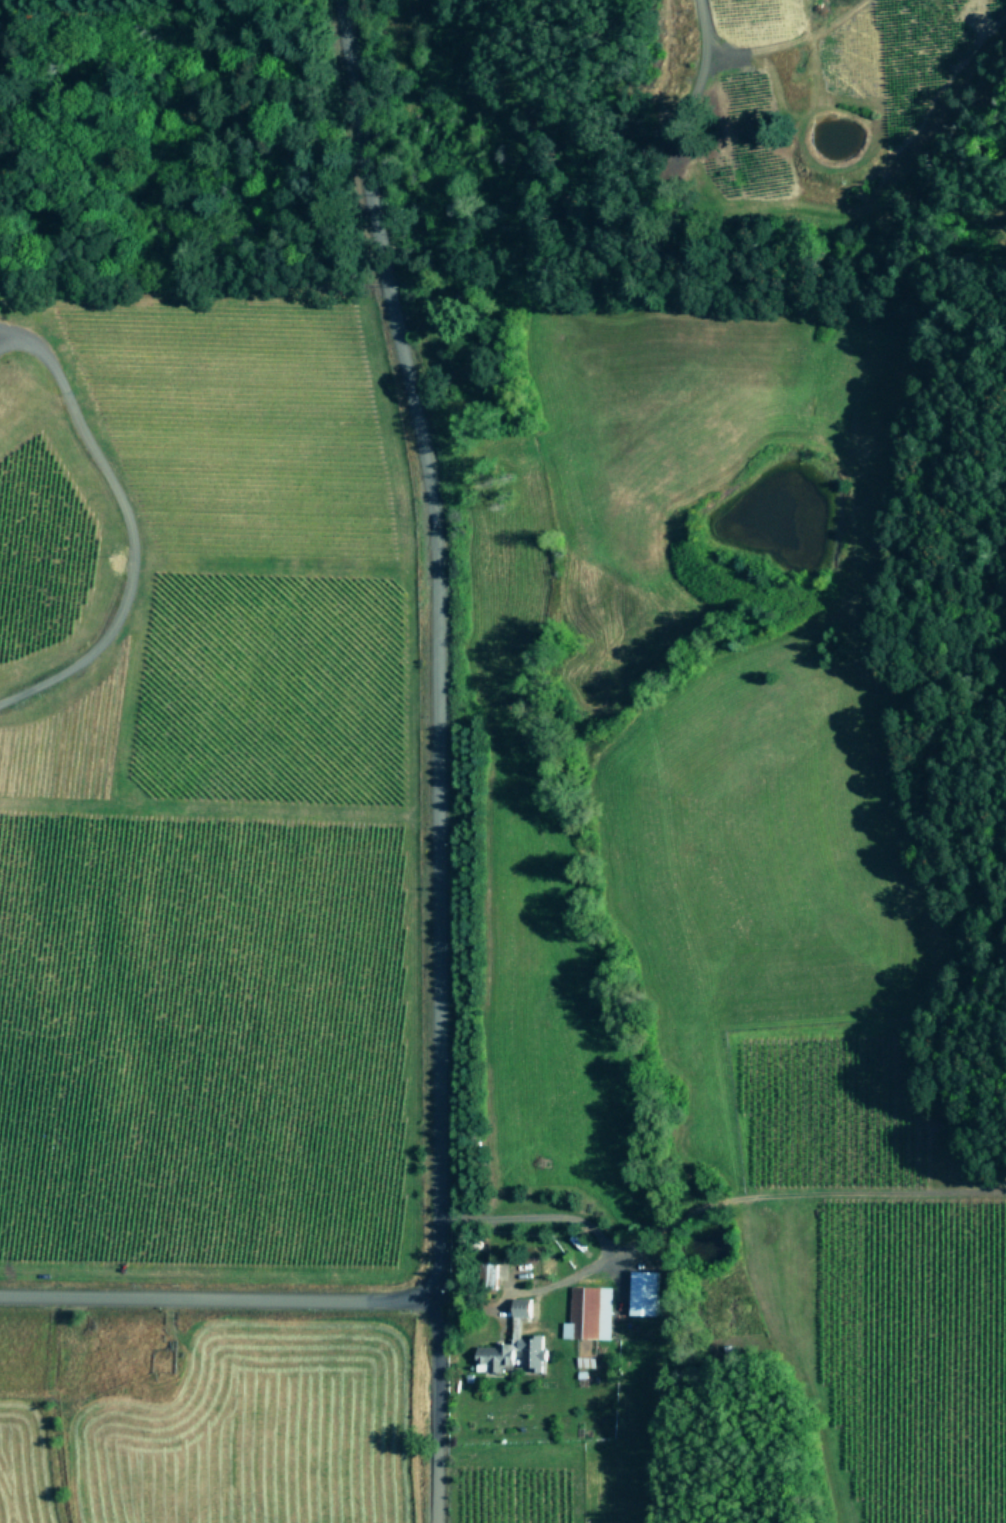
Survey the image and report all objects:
road: (614, 132)
road: (8, 329)
road: (8, 340)
road: (121, 525)
road: (434, 644)
road: (602, 1247)
road: (218, 1296)
building: (524, 1306)
building: (590, 1313)
building: (535, 1351)
building: (496, 1356)
road: (434, 1411)

